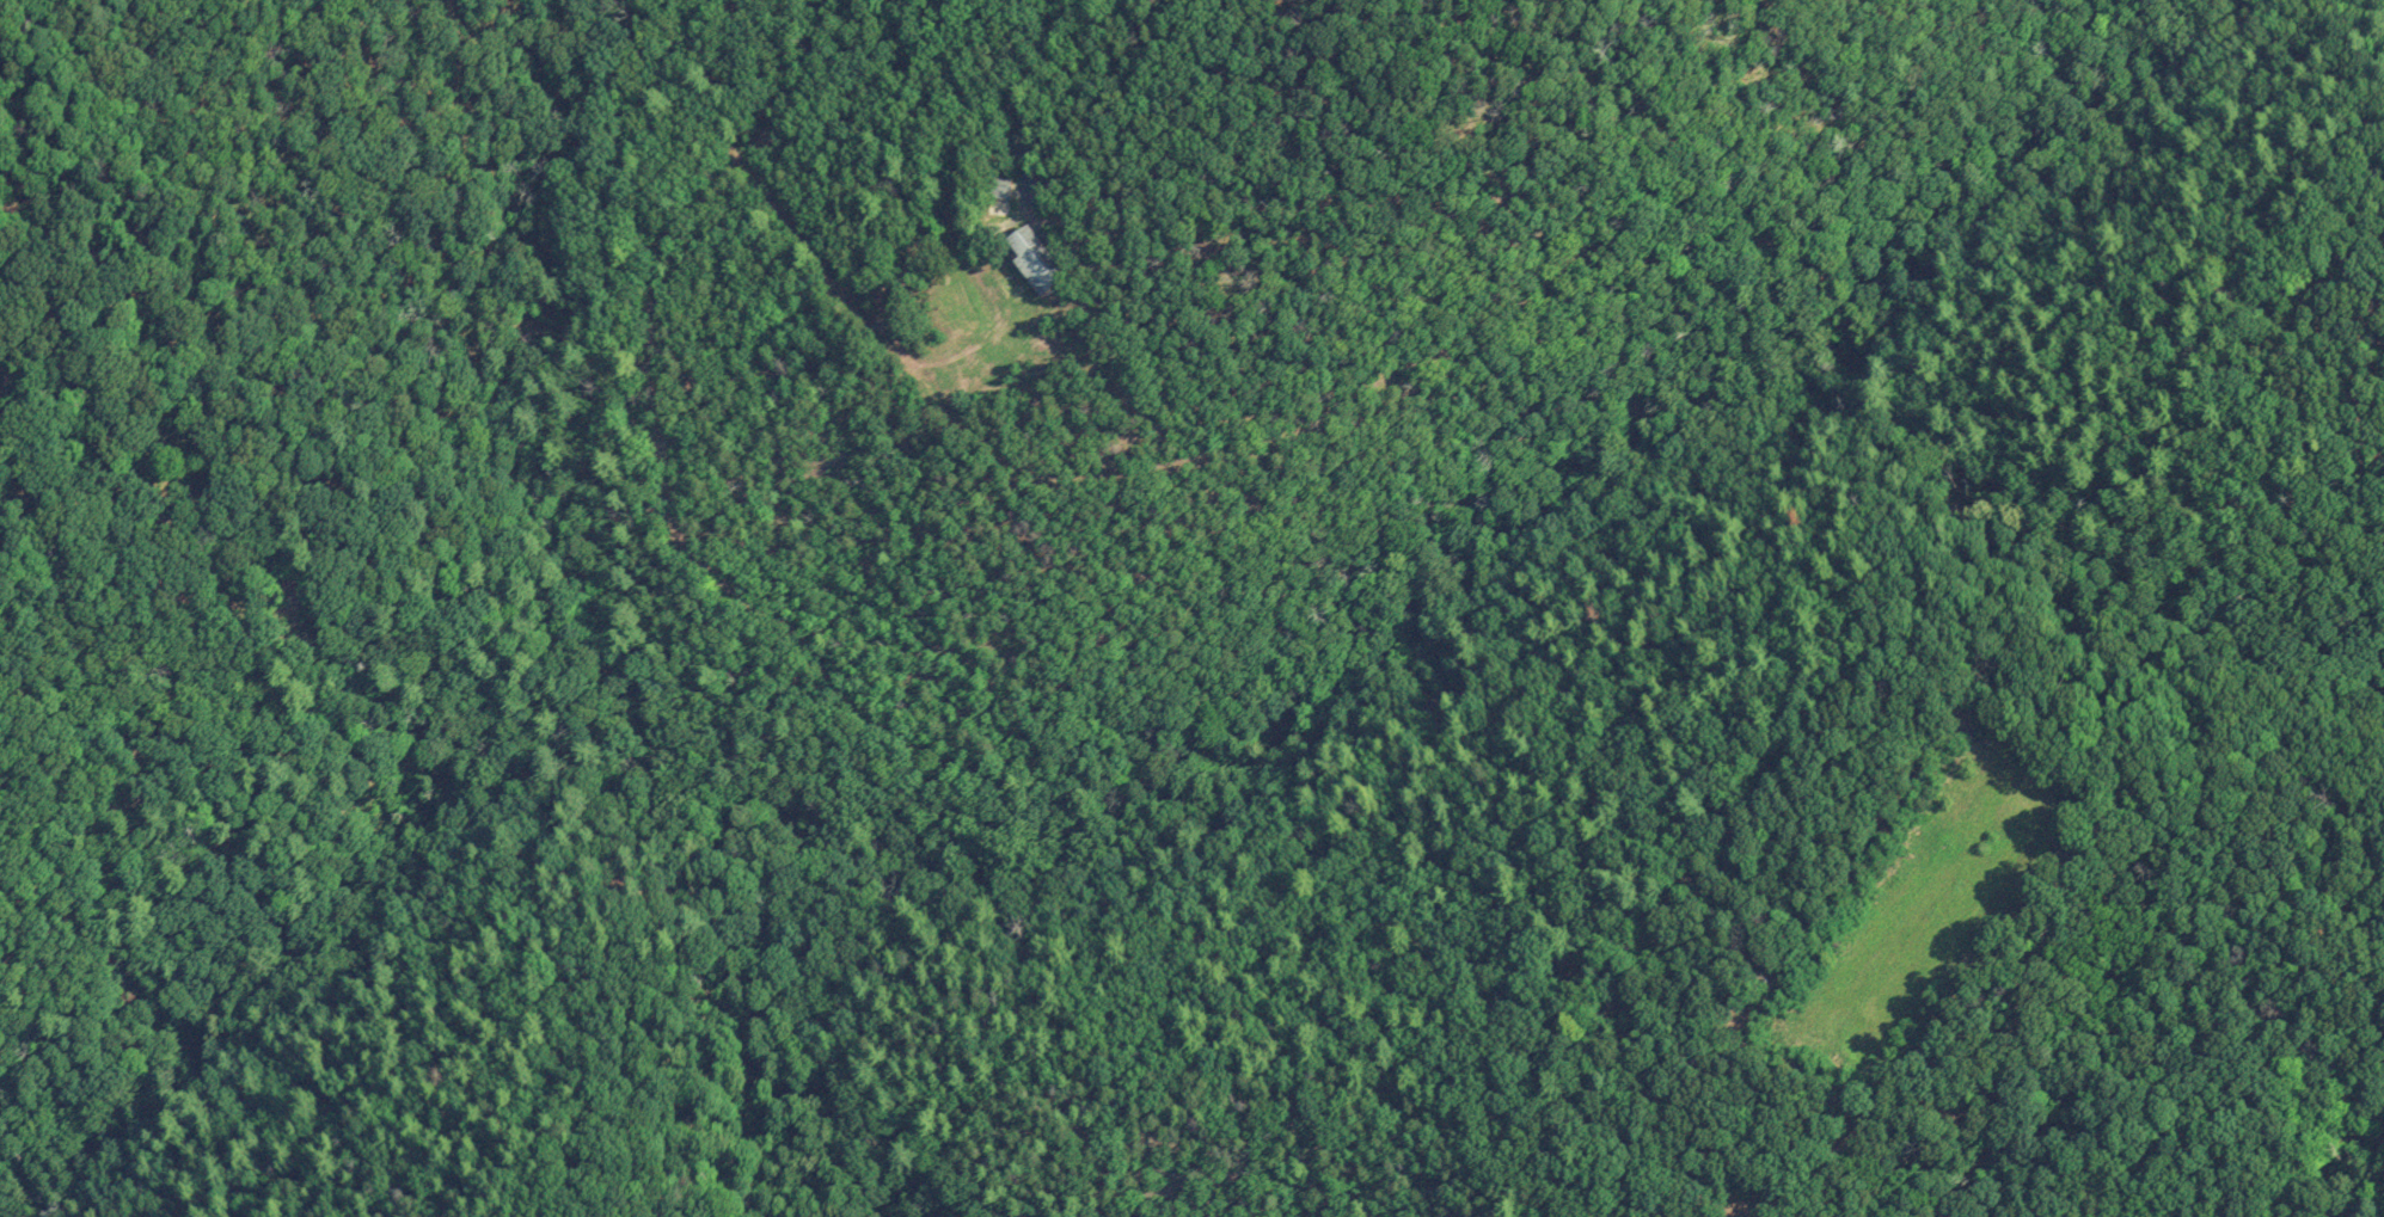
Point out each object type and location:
building: (1004, 189)
building: (1041, 264)

